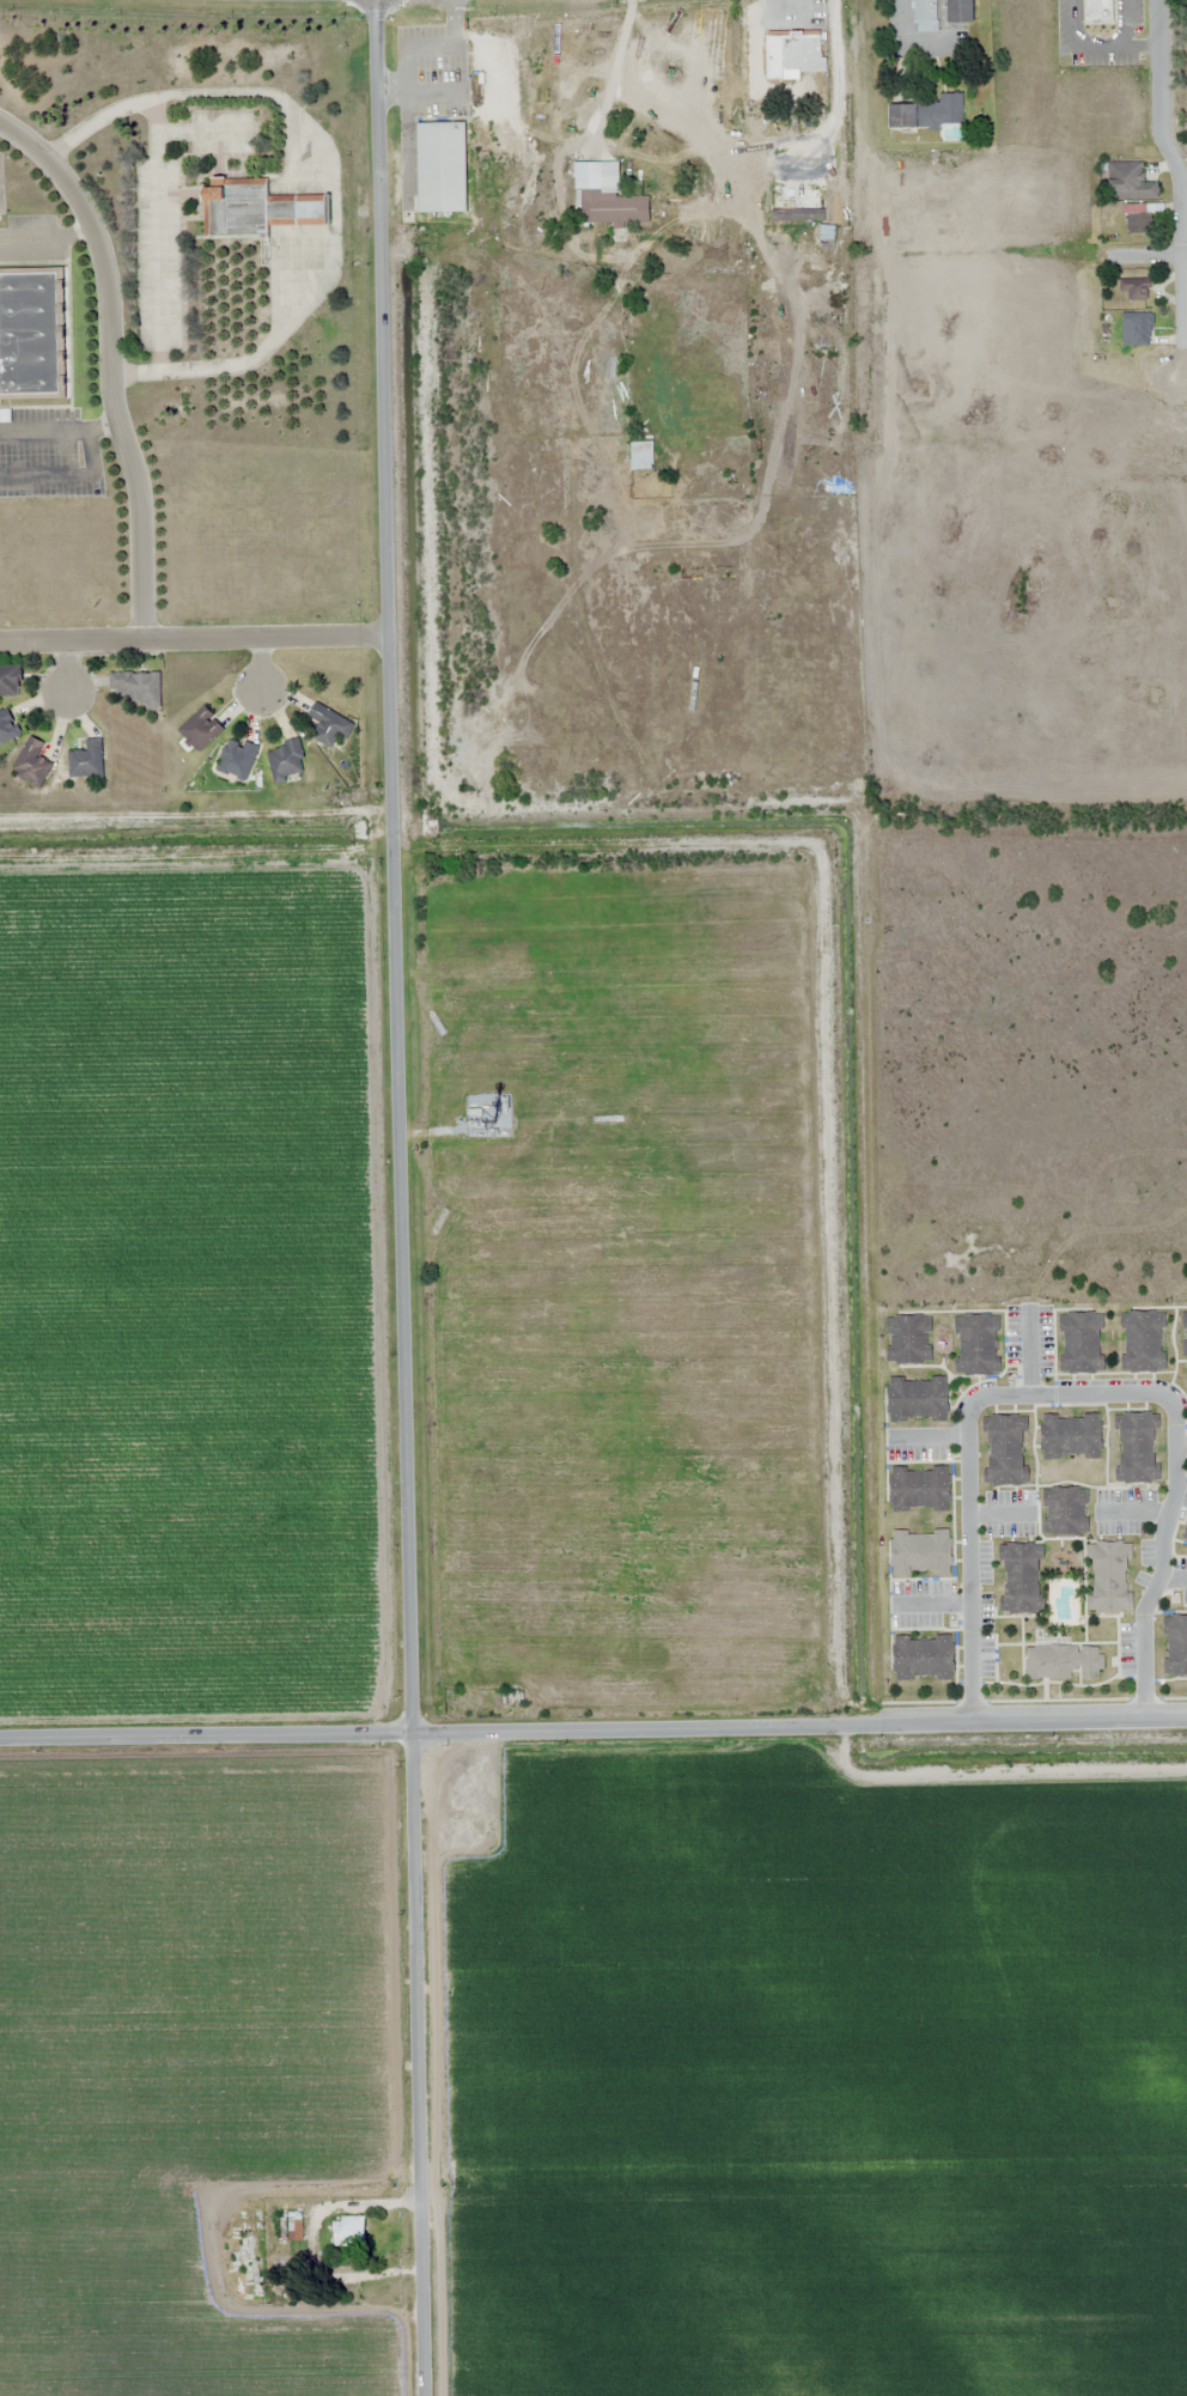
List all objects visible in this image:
building: (1098, 10)
building: (961, 11)
building: (925, 16)
building: (793, 54)
building: (948, 109)
building: (902, 115)
building: (442, 166)
building: (1130, 182)
road: (1181, 194)
building: (801, 197)
building: (256, 207)
building: (615, 207)
building: (1138, 219)
road: (1136, 253)
building: (1134, 288)
building: (1137, 328)
building: (30, 333)
road: (110, 363)
building: (655, 449)
road: (197, 638)
road: (262, 662)
road: (67, 667)
building: (10, 681)
building: (138, 688)
building: (329, 725)
building: (7, 726)
building: (201, 730)
building: (238, 759)
building: (87, 761)
building: (286, 761)
building: (32, 764)
road: (406, 1198)
building: (1185, 1333)
building: (908, 1339)
building: (1143, 1342)
building: (1082, 1343)
building: (976, 1345)
building: (918, 1400)
building: (1071, 1437)
building: (1138, 1448)
building: (1005, 1451)
building: (919, 1488)
building: (1065, 1512)
building: (921, 1553)
building: (1109, 1576)
building: (1021, 1579)
building: (1175, 1646)
building: (924, 1659)
building: (1064, 1662)
building: (509, 1698)
road: (592, 1733)
building: (348, 2231)

